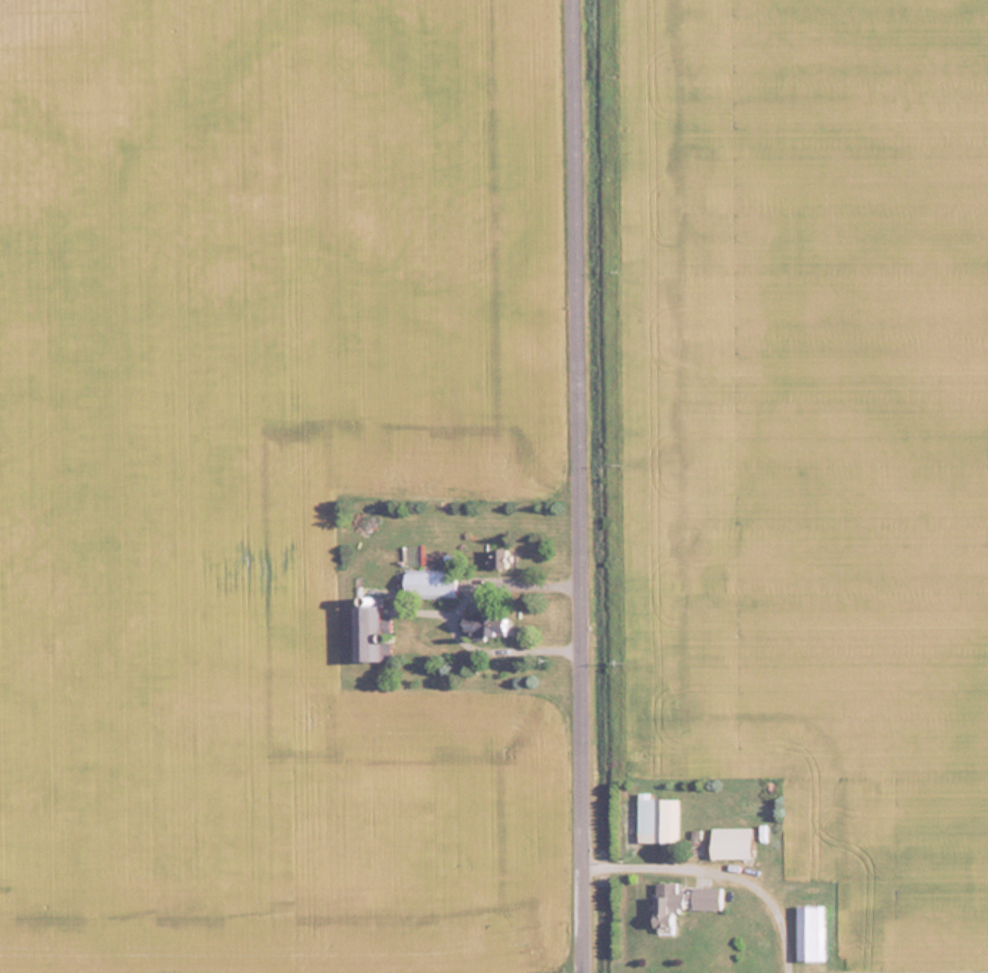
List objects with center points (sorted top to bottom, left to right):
road: (582, 486)
building: (498, 559)
building: (432, 585)
road: (458, 609)
building: (484, 625)
building: (370, 633)
building: (658, 820)
building: (730, 843)
building: (680, 902)
building: (810, 932)

